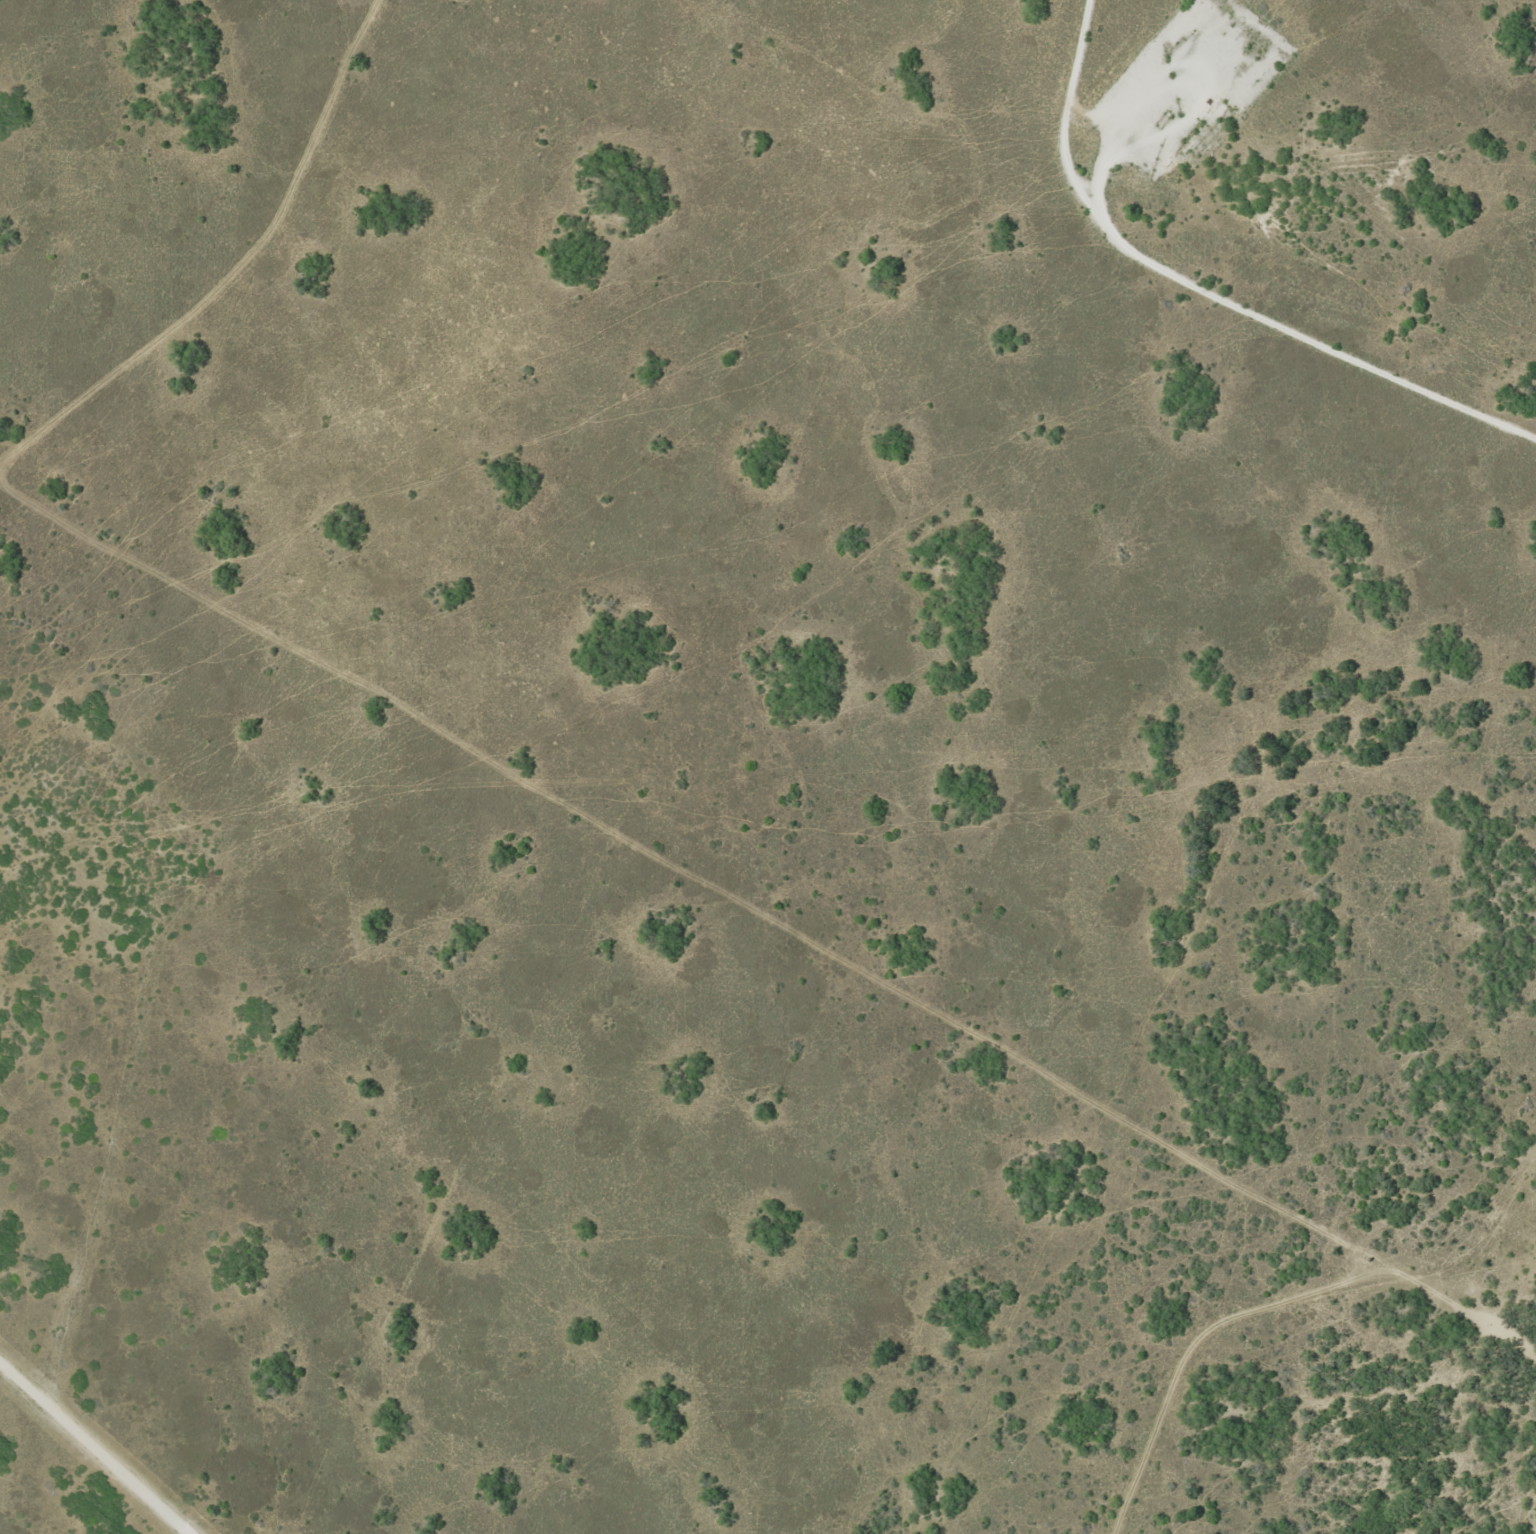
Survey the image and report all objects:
road: (92, 1453)

